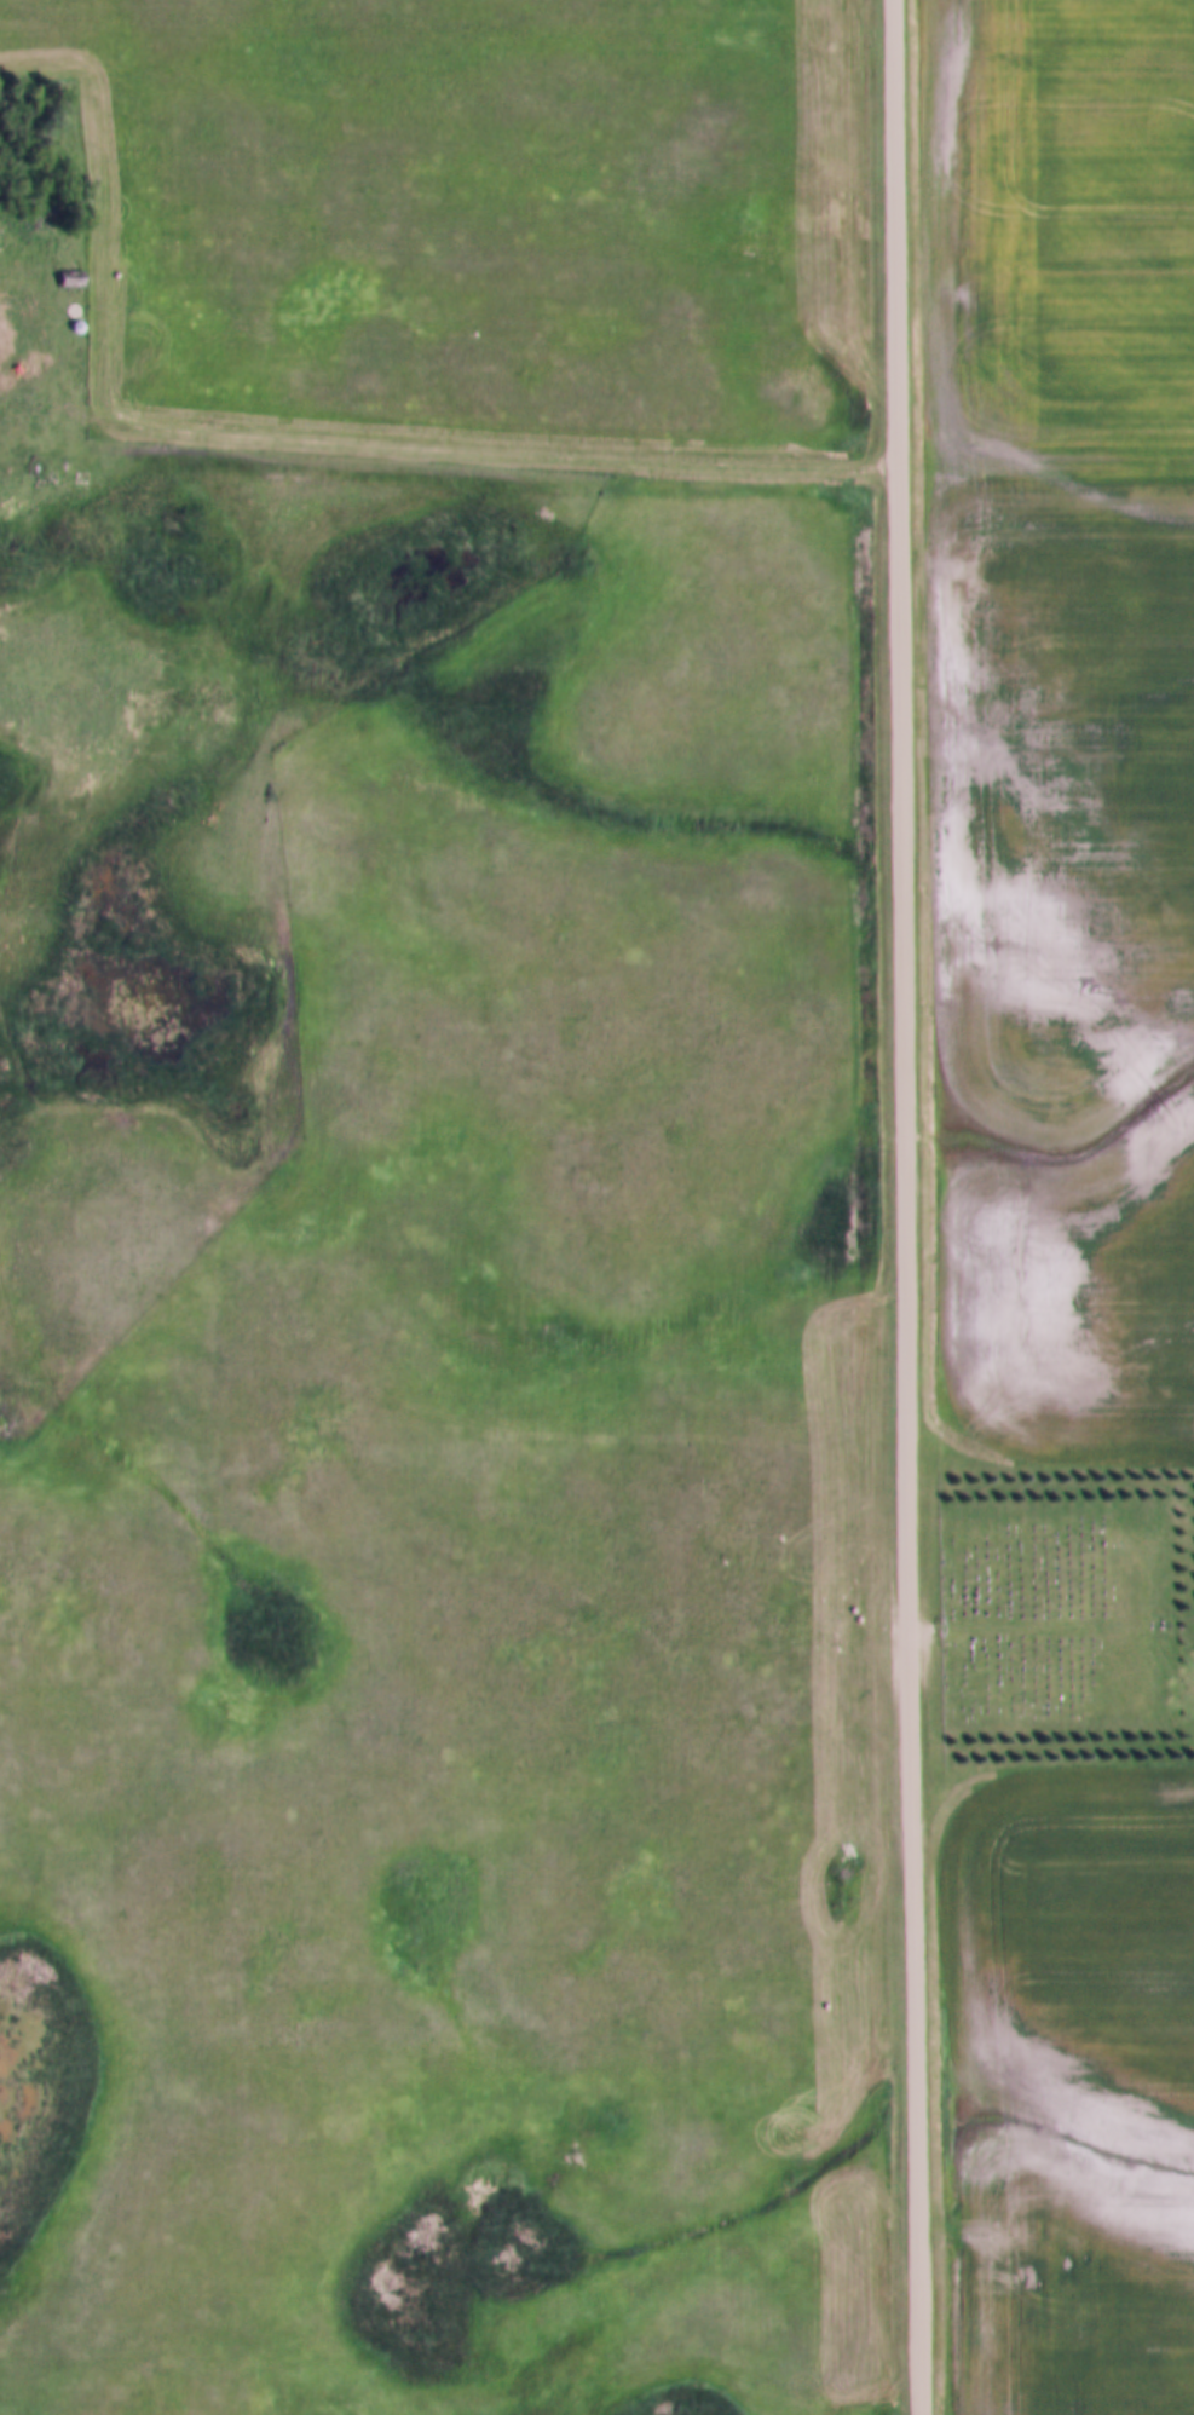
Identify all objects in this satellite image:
road: (445, 453)
road: (910, 1206)
park: (1050, 1614)

